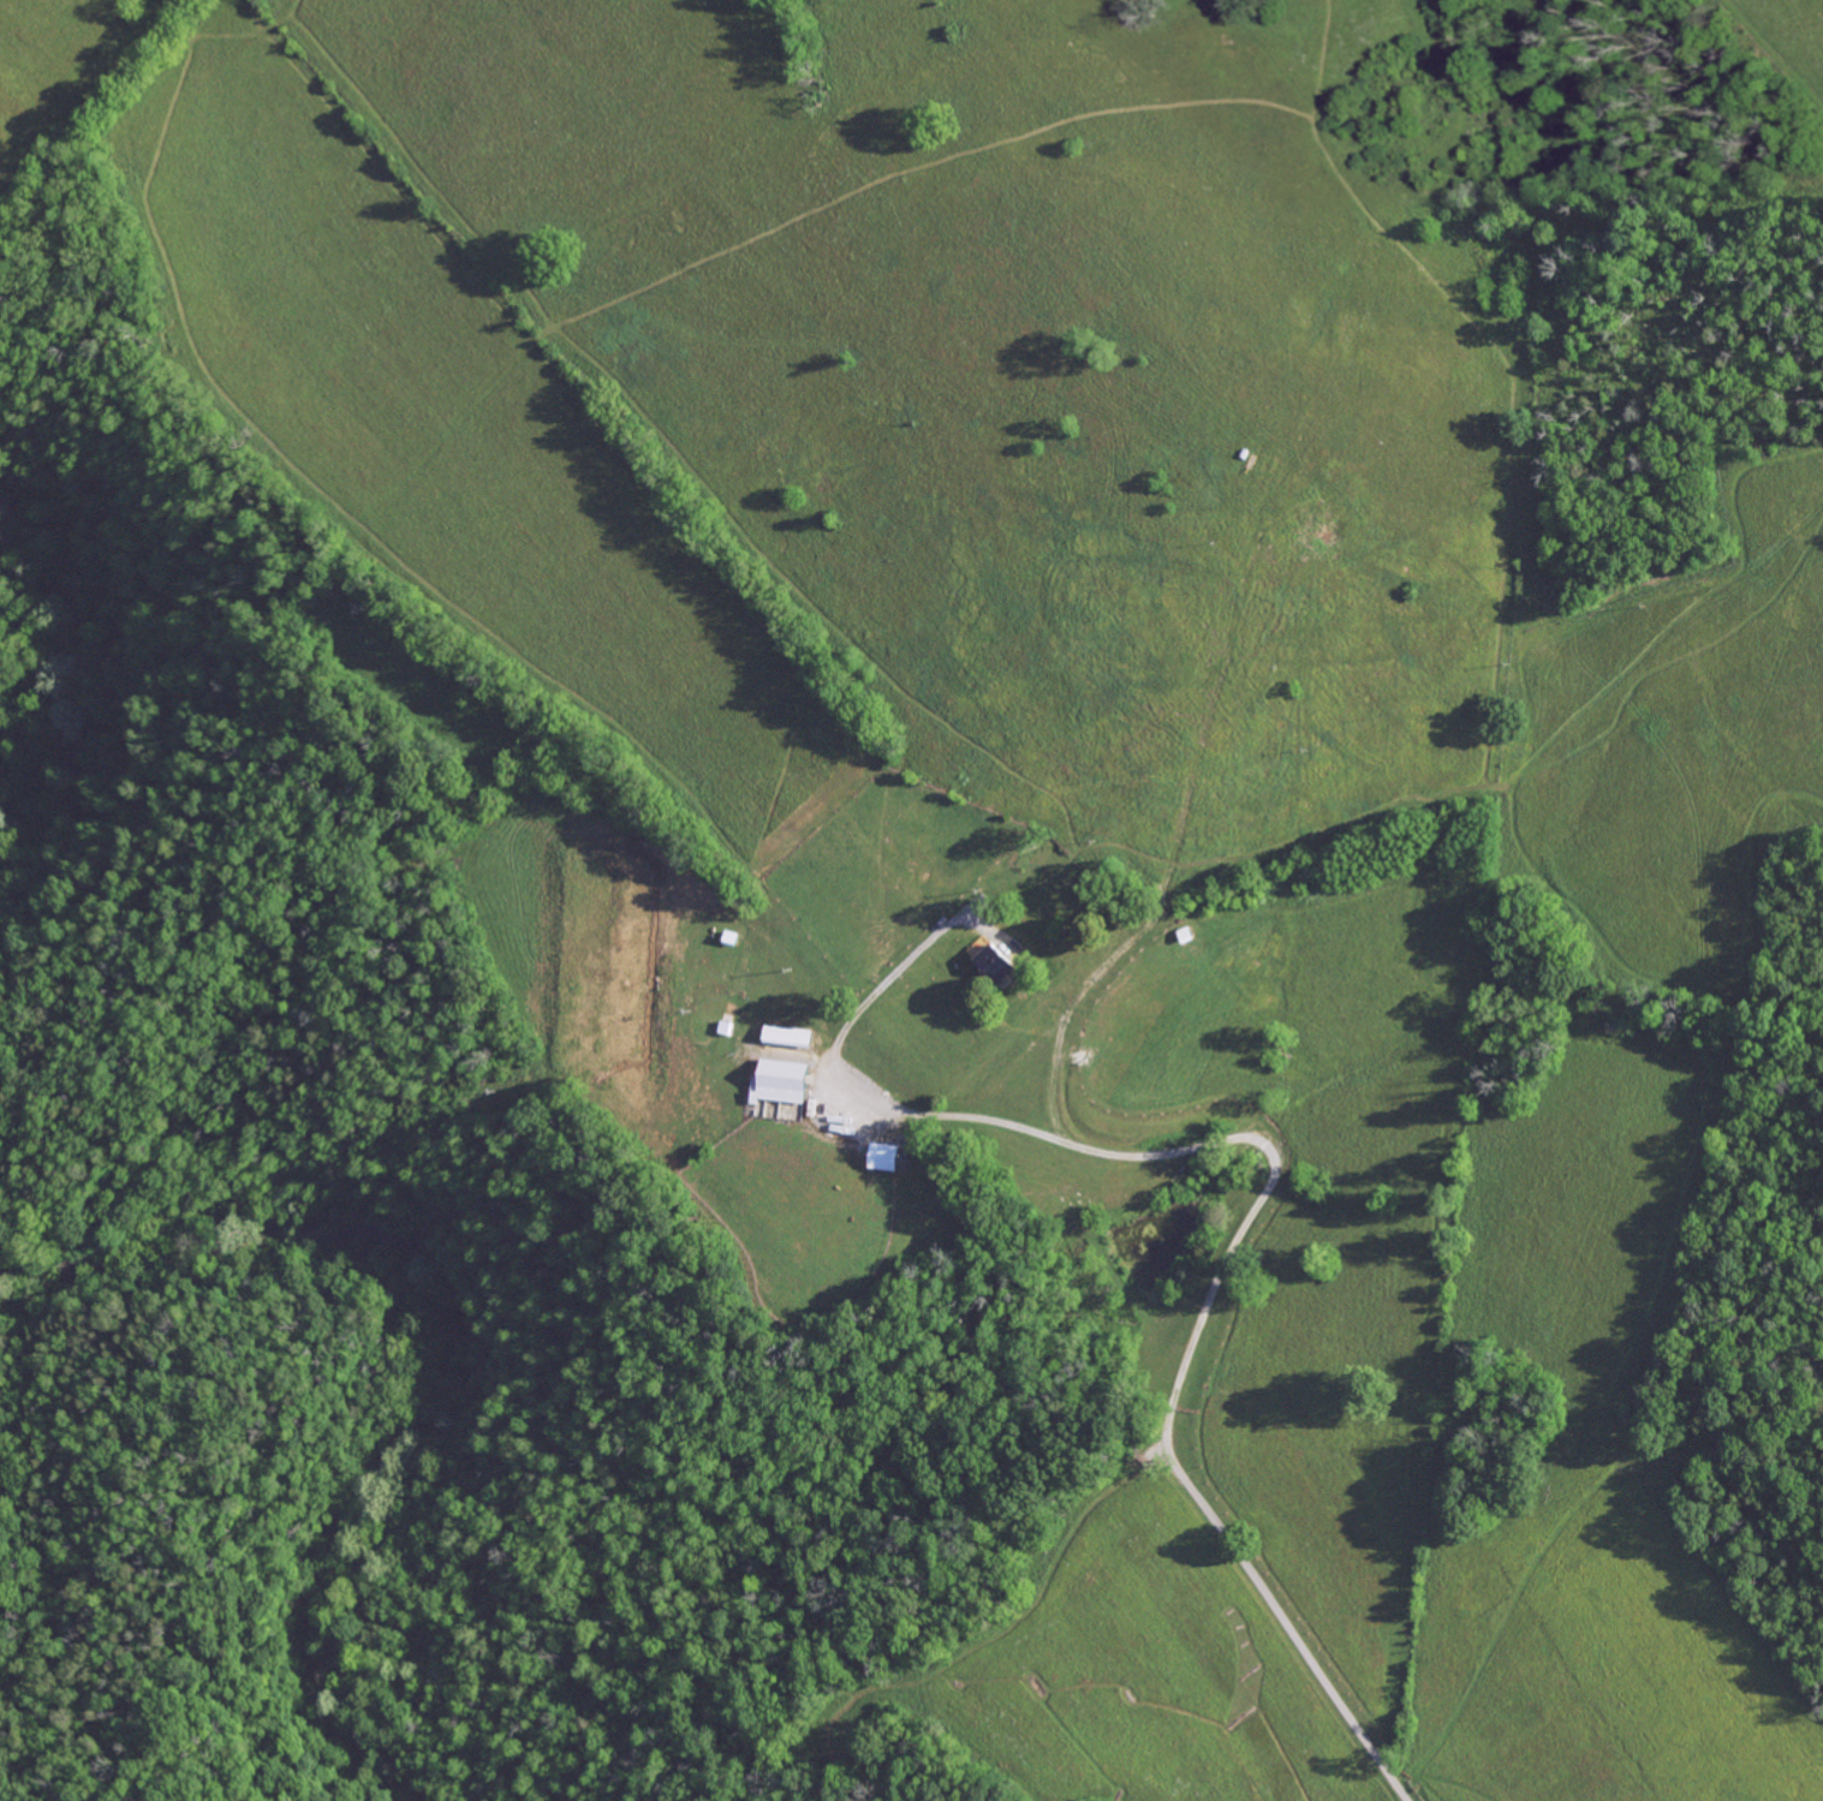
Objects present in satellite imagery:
building: (995, 965)
building: (788, 1036)
building: (781, 1083)
road: (1172, 1147)
building: (884, 1156)
road: (198, 1393)
road: (1265, 1582)

